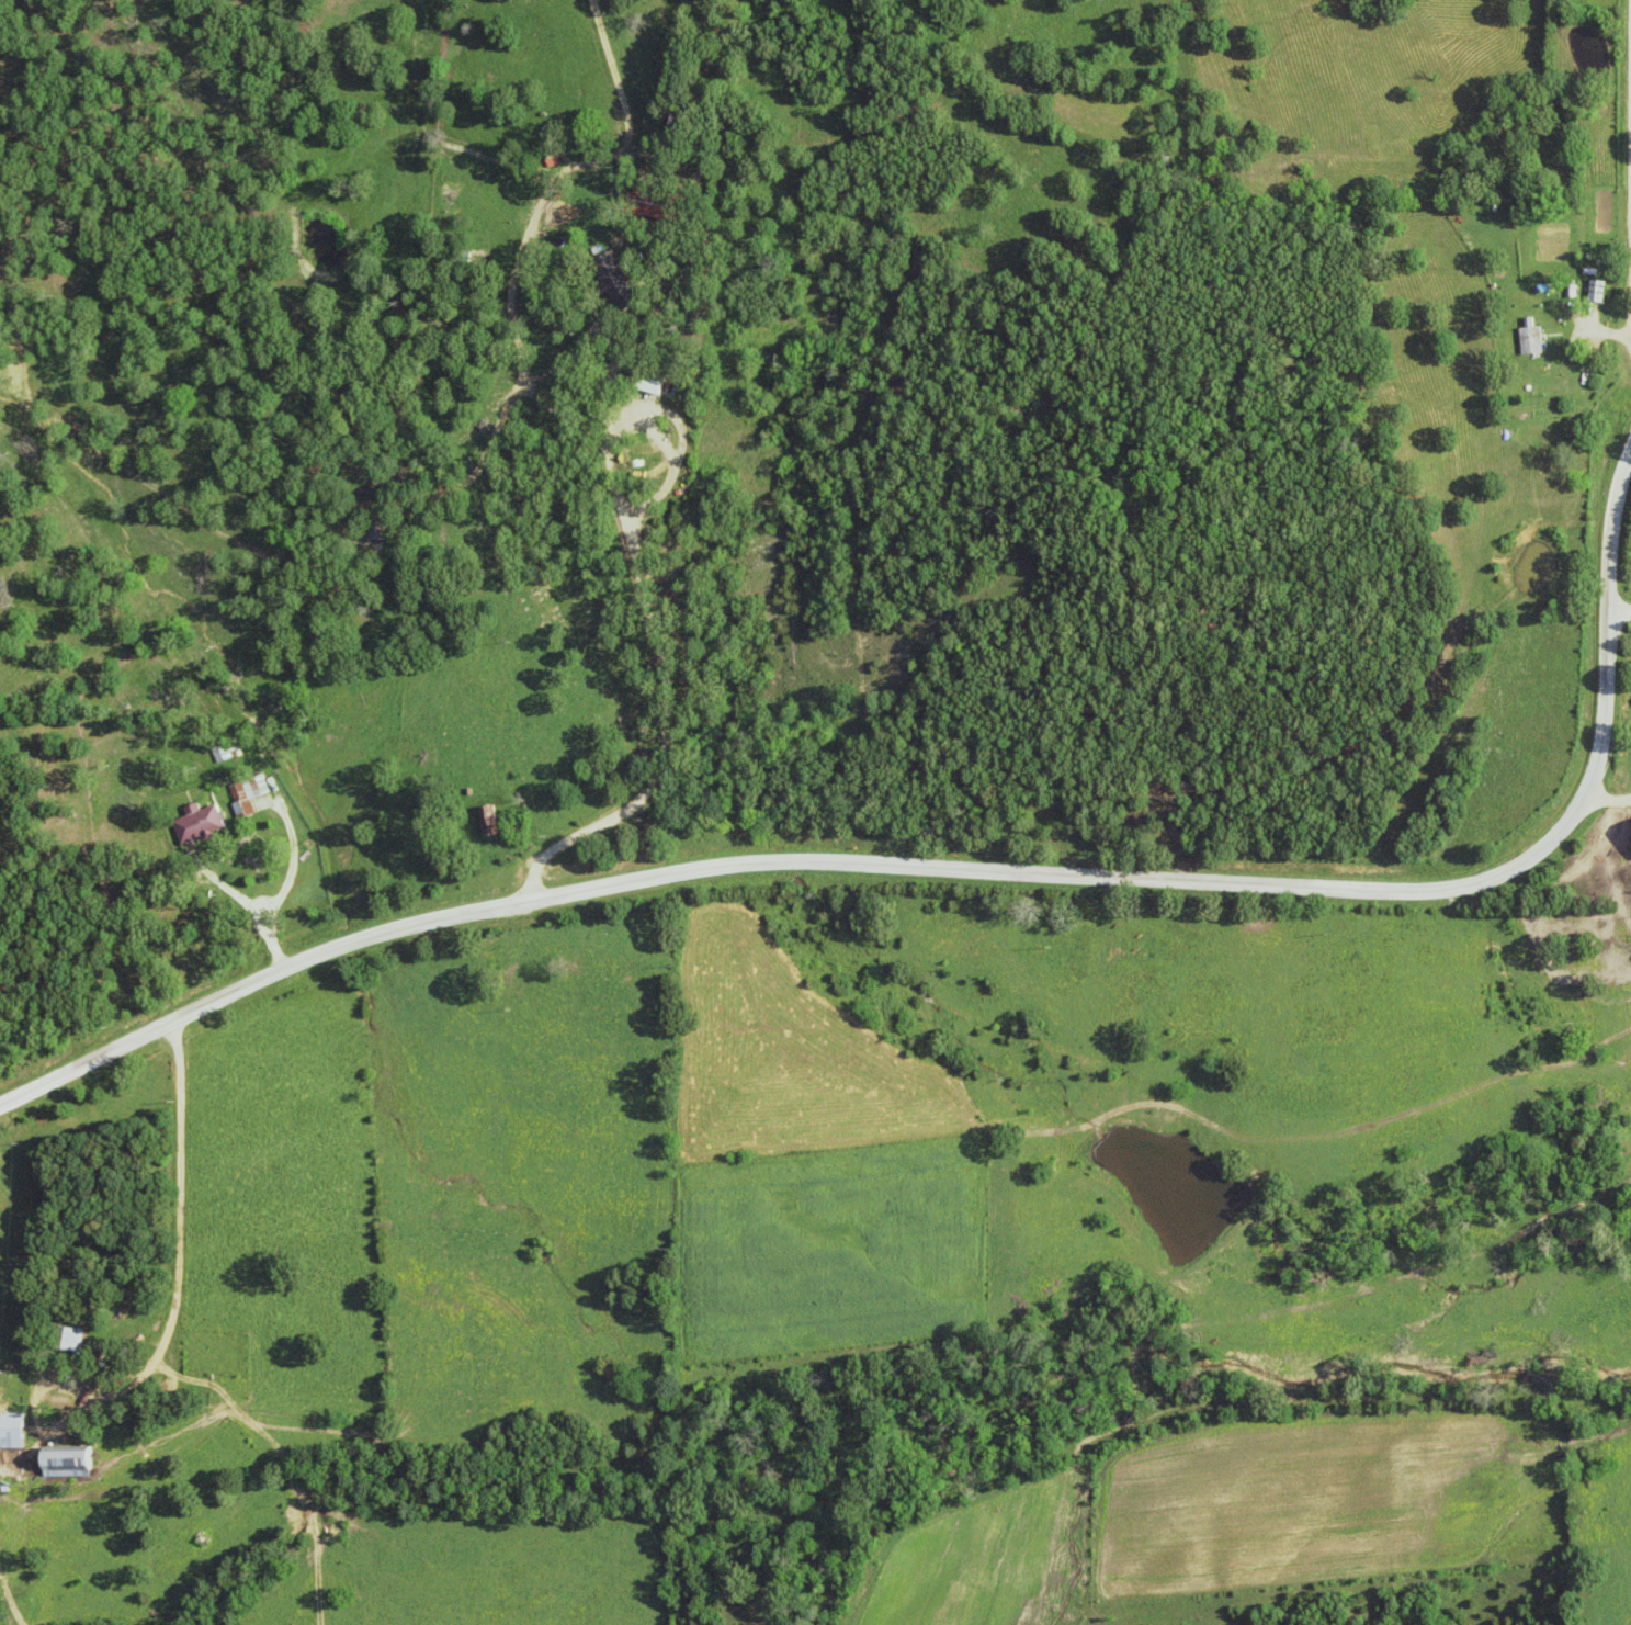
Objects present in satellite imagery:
building: (1597, 291)
road: (1608, 323)
building: (1531, 338)
building: (652, 384)
road: (1622, 608)
road: (660, 639)
building: (226, 752)
road: (1610, 793)
building: (248, 794)
building: (490, 821)
building: (199, 824)
road: (964, 865)
road: (264, 891)
road: (183, 1150)
building: (72, 1341)
road: (89, 1348)
building: (11, 1432)
building: (67, 1463)

